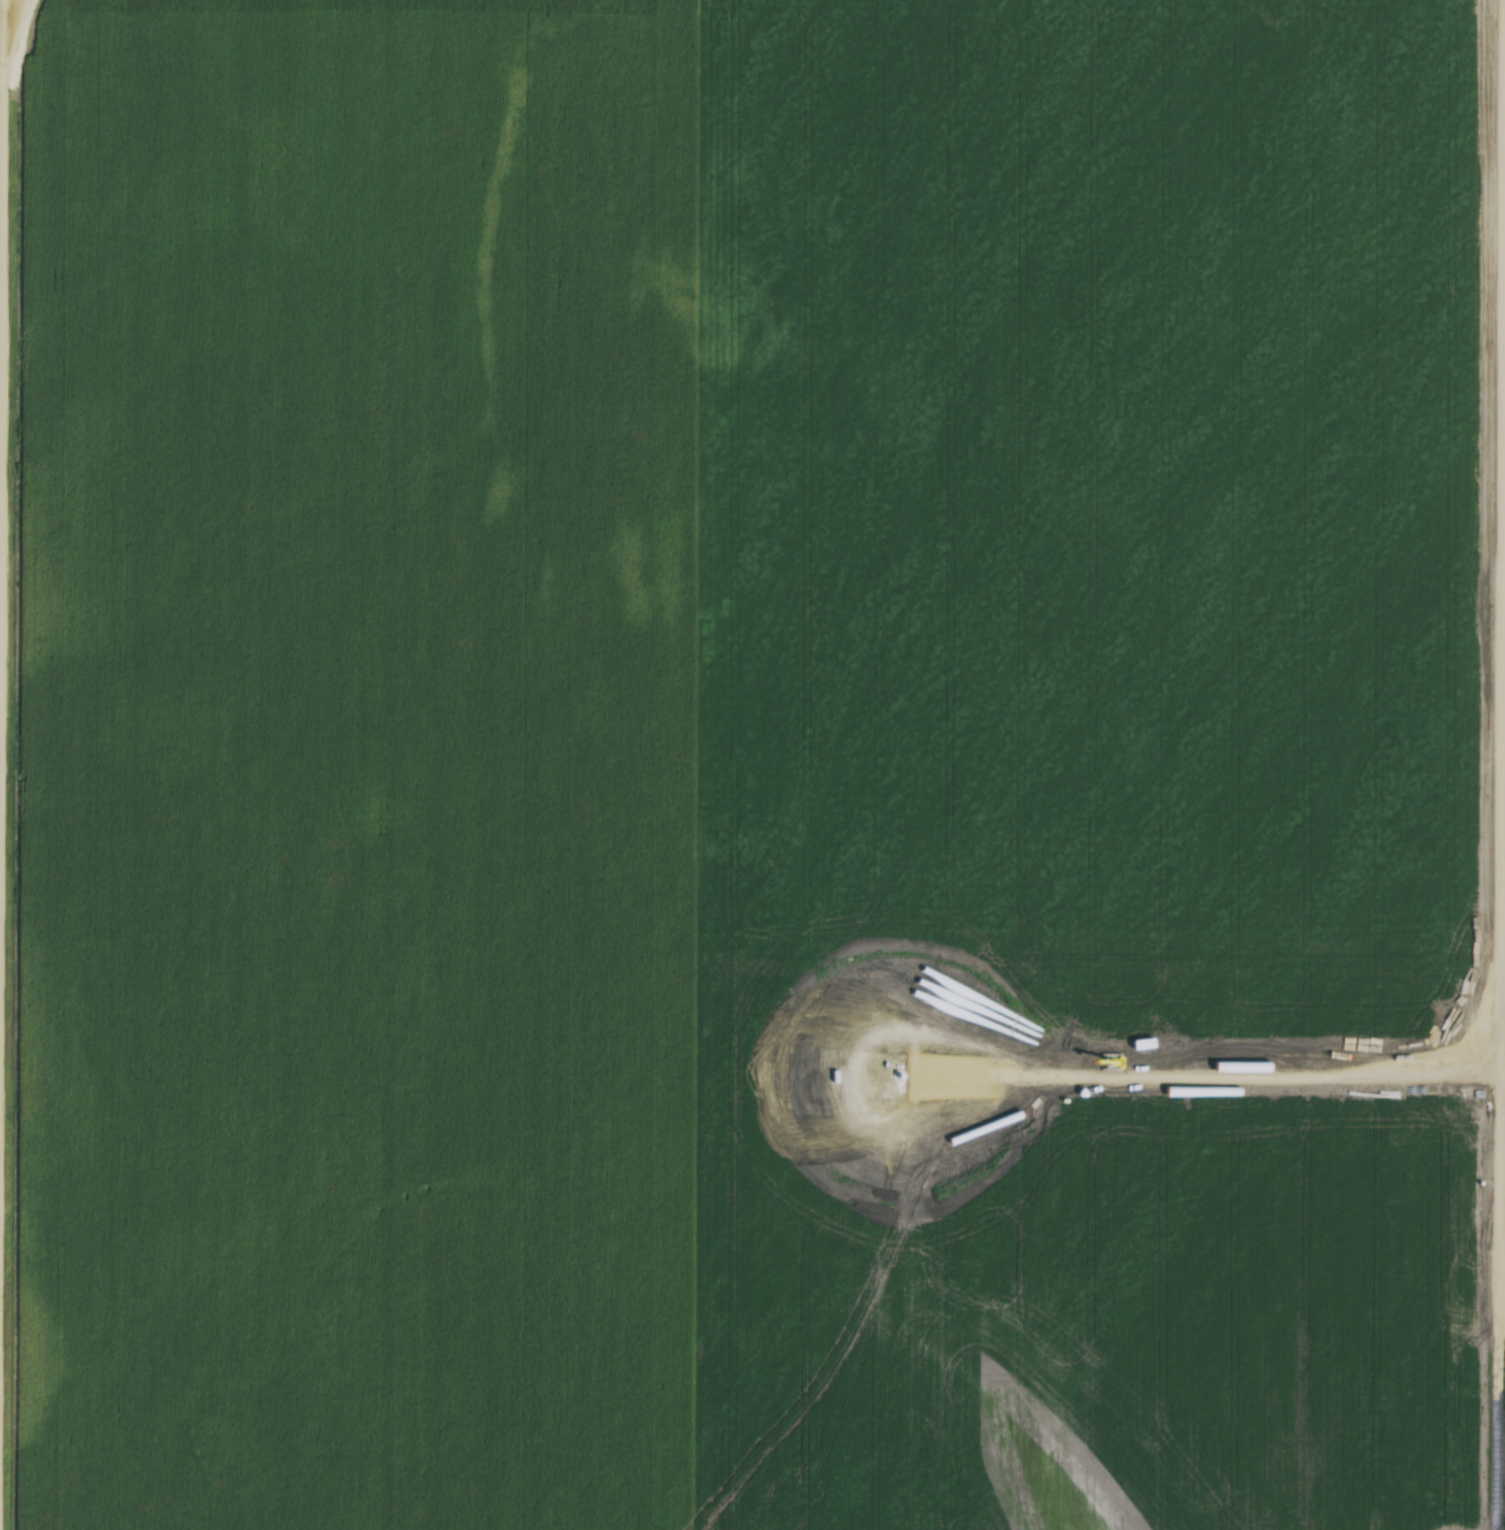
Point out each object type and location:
road: (2, 549)
wind turbine: (893, 1063)

